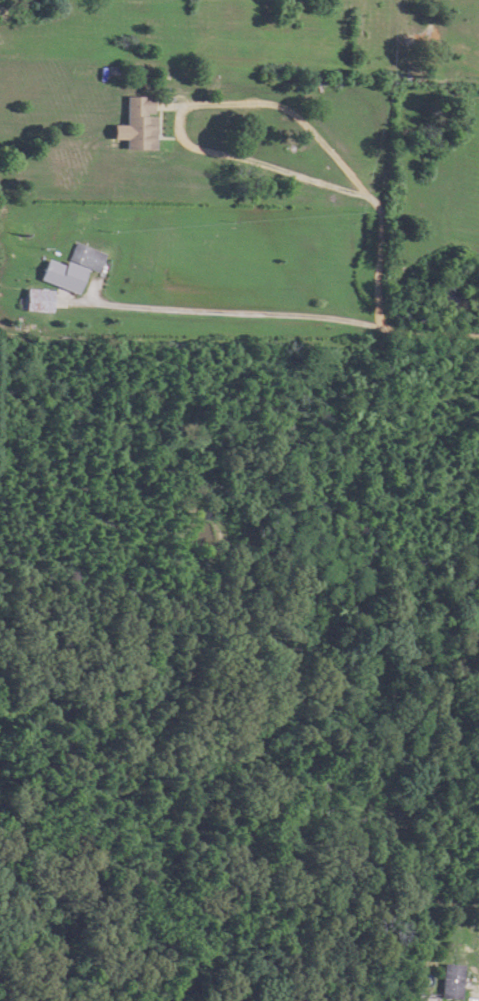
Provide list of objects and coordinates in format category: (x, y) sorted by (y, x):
building: (139, 121)
building: (71, 267)
building: (37, 300)
road: (282, 319)
building: (446, 981)

